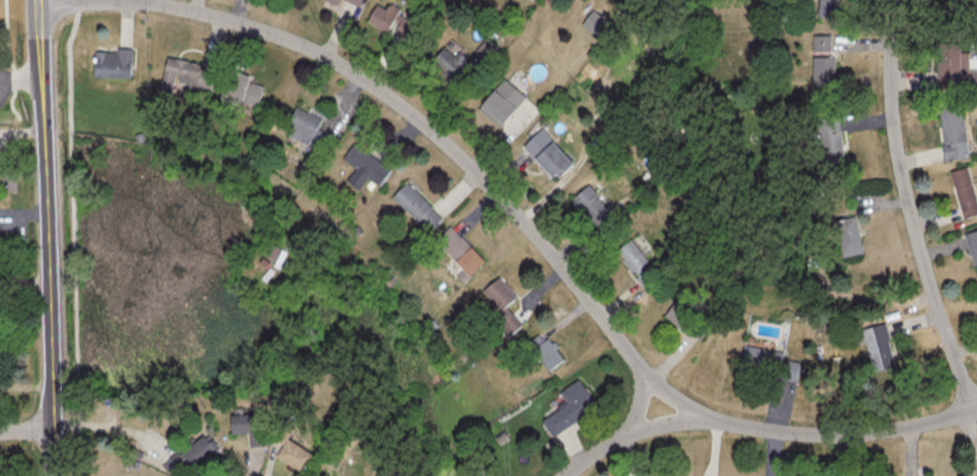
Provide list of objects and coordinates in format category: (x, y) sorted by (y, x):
building: (337, 1)
building: (358, 1)
building: (826, 8)
building: (957, 8)
building: (394, 20)
building: (820, 42)
building: (451, 61)
building: (115, 63)
building: (949, 67)
building: (822, 70)
building: (190, 75)
building: (246, 89)
building: (507, 101)
building: (309, 127)
building: (951, 132)
building: (829, 141)
building: (552, 154)
building: (367, 166)
road: (26, 179)
building: (964, 192)
building: (420, 206)
building: (594, 206)
road: (909, 210)
road: (518, 221)
building: (847, 236)
road: (45, 237)
building: (972, 247)
building: (463, 250)
building: (635, 262)
building: (503, 308)
building: (687, 318)
building: (877, 346)
building: (547, 352)
building: (572, 408)
building: (252, 427)
road: (26, 431)
road: (618, 438)
building: (297, 455)
building: (193, 457)

